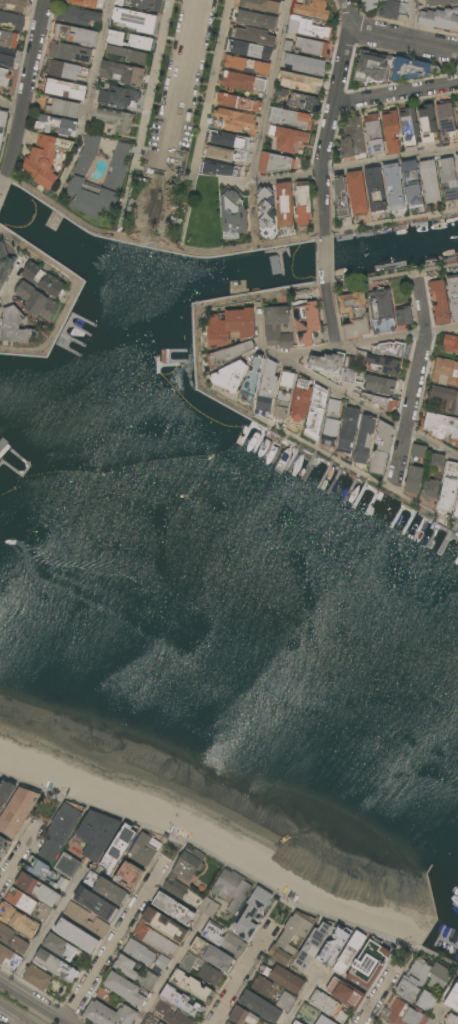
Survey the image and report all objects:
building: (441, 2)
building: (89, 3)
building: (140, 4)
building: (14, 5)
building: (261, 5)
building: (383, 7)
building: (312, 8)
building: (78, 16)
building: (137, 19)
building: (439, 19)
building: (12, 20)
building: (258, 20)
road: (412, 20)
building: (309, 28)
building: (76, 35)
building: (255, 36)
building: (9, 38)
building: (130, 40)
road: (404, 40)
building: (289, 46)
building: (312, 47)
building: (250, 50)
building: (71, 53)
building: (129, 54)
building: (7, 56)
building: (305, 64)
building: (248, 65)
building: (390, 68)
building: (67, 70)
building: (122, 73)
building: (4, 78)
building: (241, 82)
building: (300, 82)
road: (184, 84)
road: (28, 89)
building: (66, 89)
road: (396, 93)
building: (119, 97)
building: (457, 100)
building: (239, 102)
building: (304, 102)
road: (90, 103)
building: (456, 104)
road: (11, 107)
building: (62, 107)
building: (457, 115)
road: (331, 117)
building: (291, 118)
building: (117, 119)
building: (447, 120)
building: (234, 121)
building: (428, 123)
building: (457, 123)
building: (3, 125)
building: (57, 125)
road: (261, 127)
building: (409, 127)
building: (391, 131)
building: (374, 134)
building: (288, 137)
building: (229, 140)
building: (352, 140)
building: (226, 154)
building: (457, 158)
building: (45, 159)
building: (275, 163)
road: (390, 163)
building: (221, 169)
building: (108, 171)
building: (115, 175)
building: (449, 179)
building: (412, 181)
building: (430, 181)
road: (3, 185)
building: (394, 187)
building: (375, 190)
building: (357, 193)
building: (341, 198)
building: (284, 204)
building: (303, 204)
road: (252, 208)
building: (265, 209)
park: (154, 210)
building: (233, 212)
road: (109, 230)
road: (344, 233)
road: (326, 261)
building: (5, 265)
building: (44, 280)
road: (65, 280)
road: (335, 284)
building: (453, 294)
building: (36, 301)
building: (440, 302)
building: (0, 309)
building: (382, 311)
building: (355, 315)
road: (331, 316)
building: (403, 316)
building: (306, 322)
building: (230, 326)
building: (277, 326)
building: (15, 327)
road: (370, 341)
building: (451, 343)
road: (20, 349)
building: (390, 349)
building: (229, 354)
building: (327, 363)
building: (384, 365)
building: (446, 367)
building: (230, 376)
building: (252, 380)
building: (371, 382)
road: (416, 384)
building: (267, 387)
building: (285, 394)
building: (447, 398)
building: (300, 401)
building: (381, 401)
road: (371, 411)
building: (317, 412)
building: (332, 423)
building: (441, 426)
building: (349, 430)
building: (365, 439)
building: (381, 448)
building: (418, 451)
road: (333, 459)
building: (437, 461)
building: (414, 480)
building: (449, 487)
building: (430, 490)
building: (456, 512)
building: (5, 793)
building: (19, 811)
building: (61, 830)
building: (96, 834)
building: (4, 844)
building: (119, 847)
building: (144, 849)
road: (19, 856)
building: (0, 858)
road: (228, 870)
building: (184, 871)
building: (42, 872)
building: (128, 876)
building: (37, 889)
building: (106, 889)
building: (232, 889)
building: (85, 897)
building: (28, 905)
building: (208, 907)
building: (174, 908)
building: (251, 913)
building: (18, 920)
building: (86, 920)
building: (67, 923)
building: (165, 925)
road: (47, 930)
building: (292, 938)
building: (82, 939)
building: (13, 940)
building: (155, 940)
building: (224, 940)
road: (114, 943)
building: (333, 946)
building: (59, 947)
building: (311, 947)
building: (349, 953)
building: (213, 954)
building: (8, 957)
building: (146, 957)
building: (54, 965)
building: (369, 965)
building: (201, 969)
road: (170, 972)
road: (241, 975)
building: (37, 977)
building: (284, 978)
building: (423, 979)
building: (130, 981)
building: (191, 986)
building: (261, 986)
building: (345, 992)
building: (451, 994)
road: (377, 996)
road: (301, 1000)
building: (427, 1001)
building: (181, 1002)
building: (286, 1002)
road: (32, 1003)
building: (260, 1006)
building: (327, 1006)
road: (16, 1013)
building: (108, 1014)
building: (172, 1014)
building: (405, 1014)
building: (244, 1017)
road: (437, 1019)
building: (451, 1019)
building: (324, 1020)
building: (297, 1022)
building: (2, 1023)
building: (158, 1023)
building: (161, 1023)
building: (225, 1023)
building: (228, 1023)

